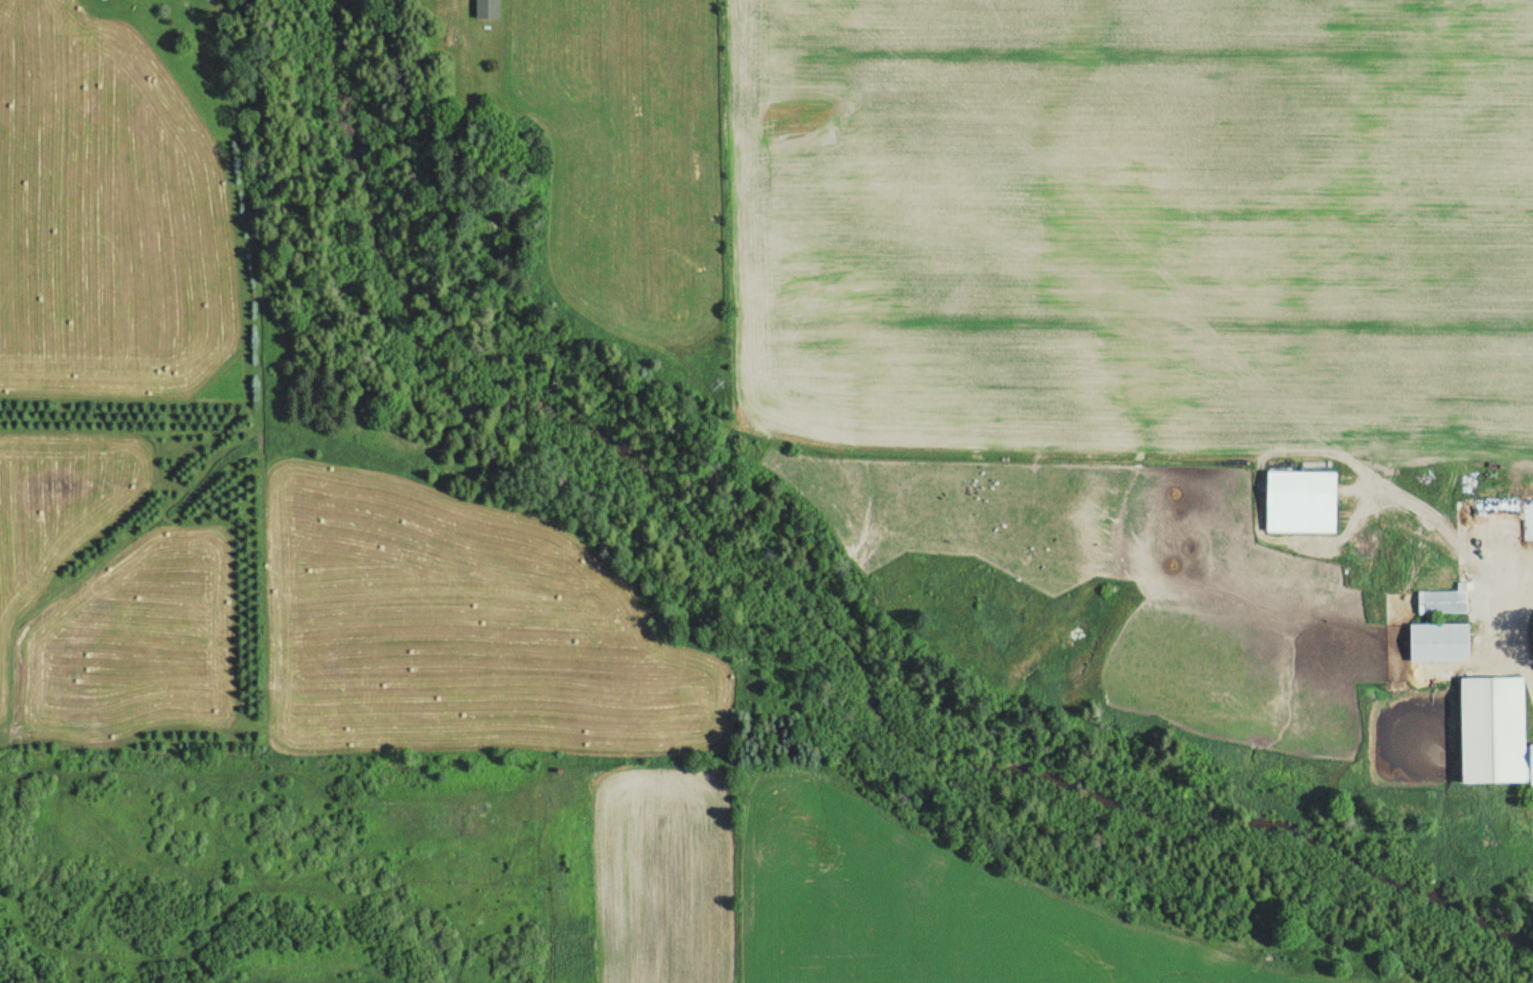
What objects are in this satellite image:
building: (487, 9)
river: (802, 594)
building: (1443, 601)
building: (1437, 642)
road: (1509, 643)
building: (1496, 735)

